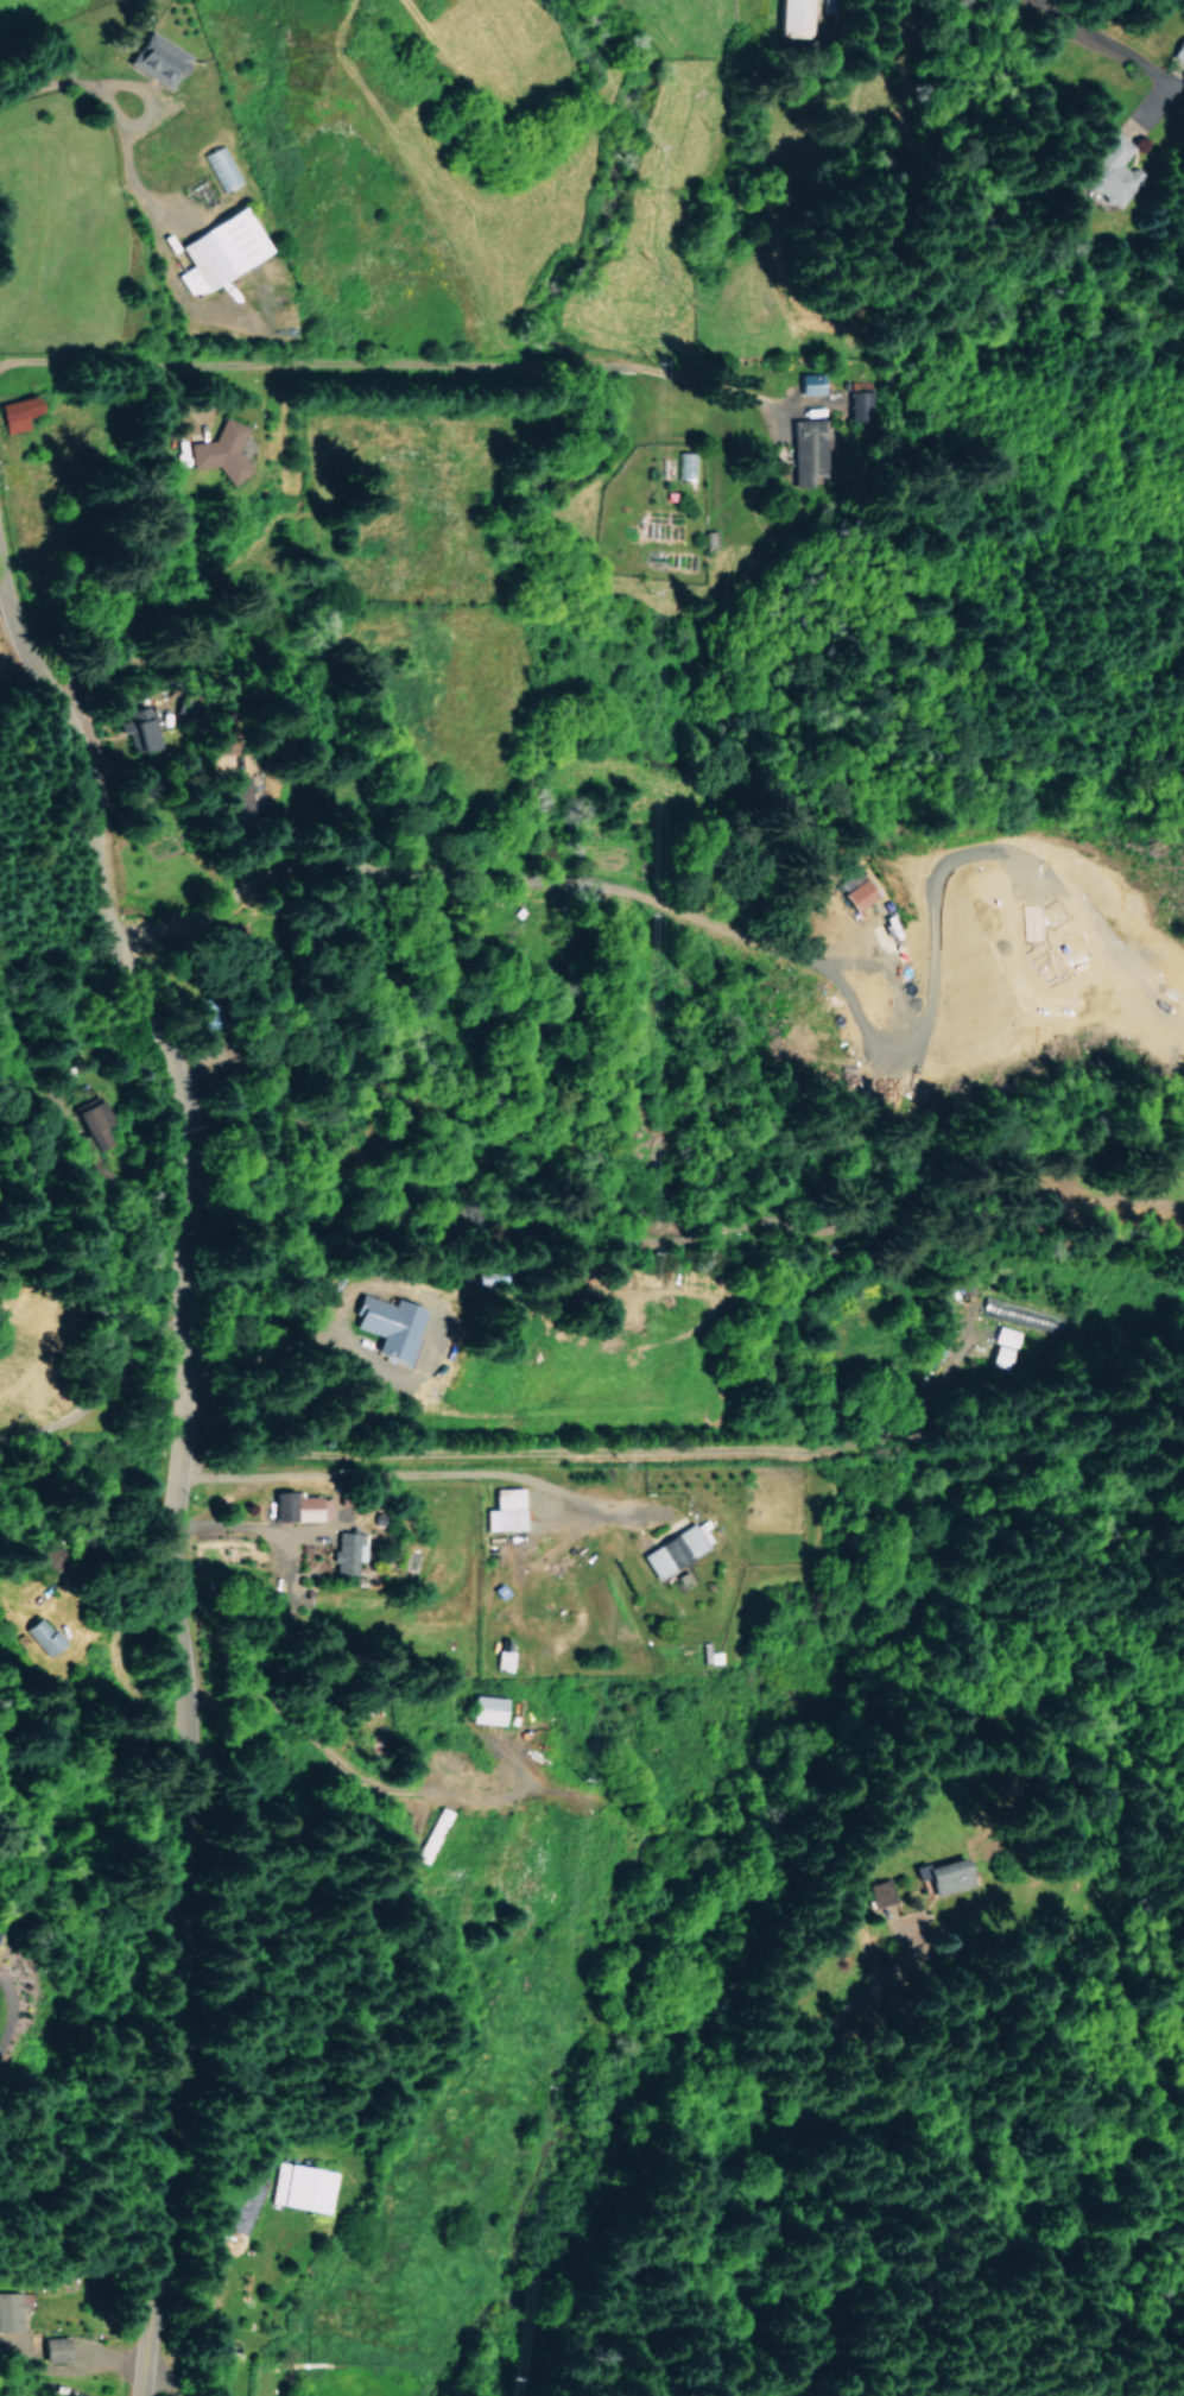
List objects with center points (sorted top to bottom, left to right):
building: (791, 15)
building: (152, 58)
building: (217, 249)
road: (388, 377)
building: (808, 383)
building: (861, 404)
building: (13, 412)
building: (808, 429)
building: (220, 450)
building: (684, 464)
building: (137, 728)
building: (230, 796)
building: (859, 889)
building: (869, 1001)
road: (632, 1018)
building: (90, 1121)
building: (1018, 1313)
building: (386, 1325)
road: (683, 1443)
road: (185, 1484)
building: (296, 1506)
building: (502, 1510)
building: (672, 1549)
building: (342, 1551)
building: (40, 1635)
building: (368, 1701)
building: (483, 1708)
building: (942, 1876)
building: (876, 1891)
building: (299, 2187)
building: (8, 2310)
building: (51, 2347)
building: (217, 2350)
road: (878, 2379)

